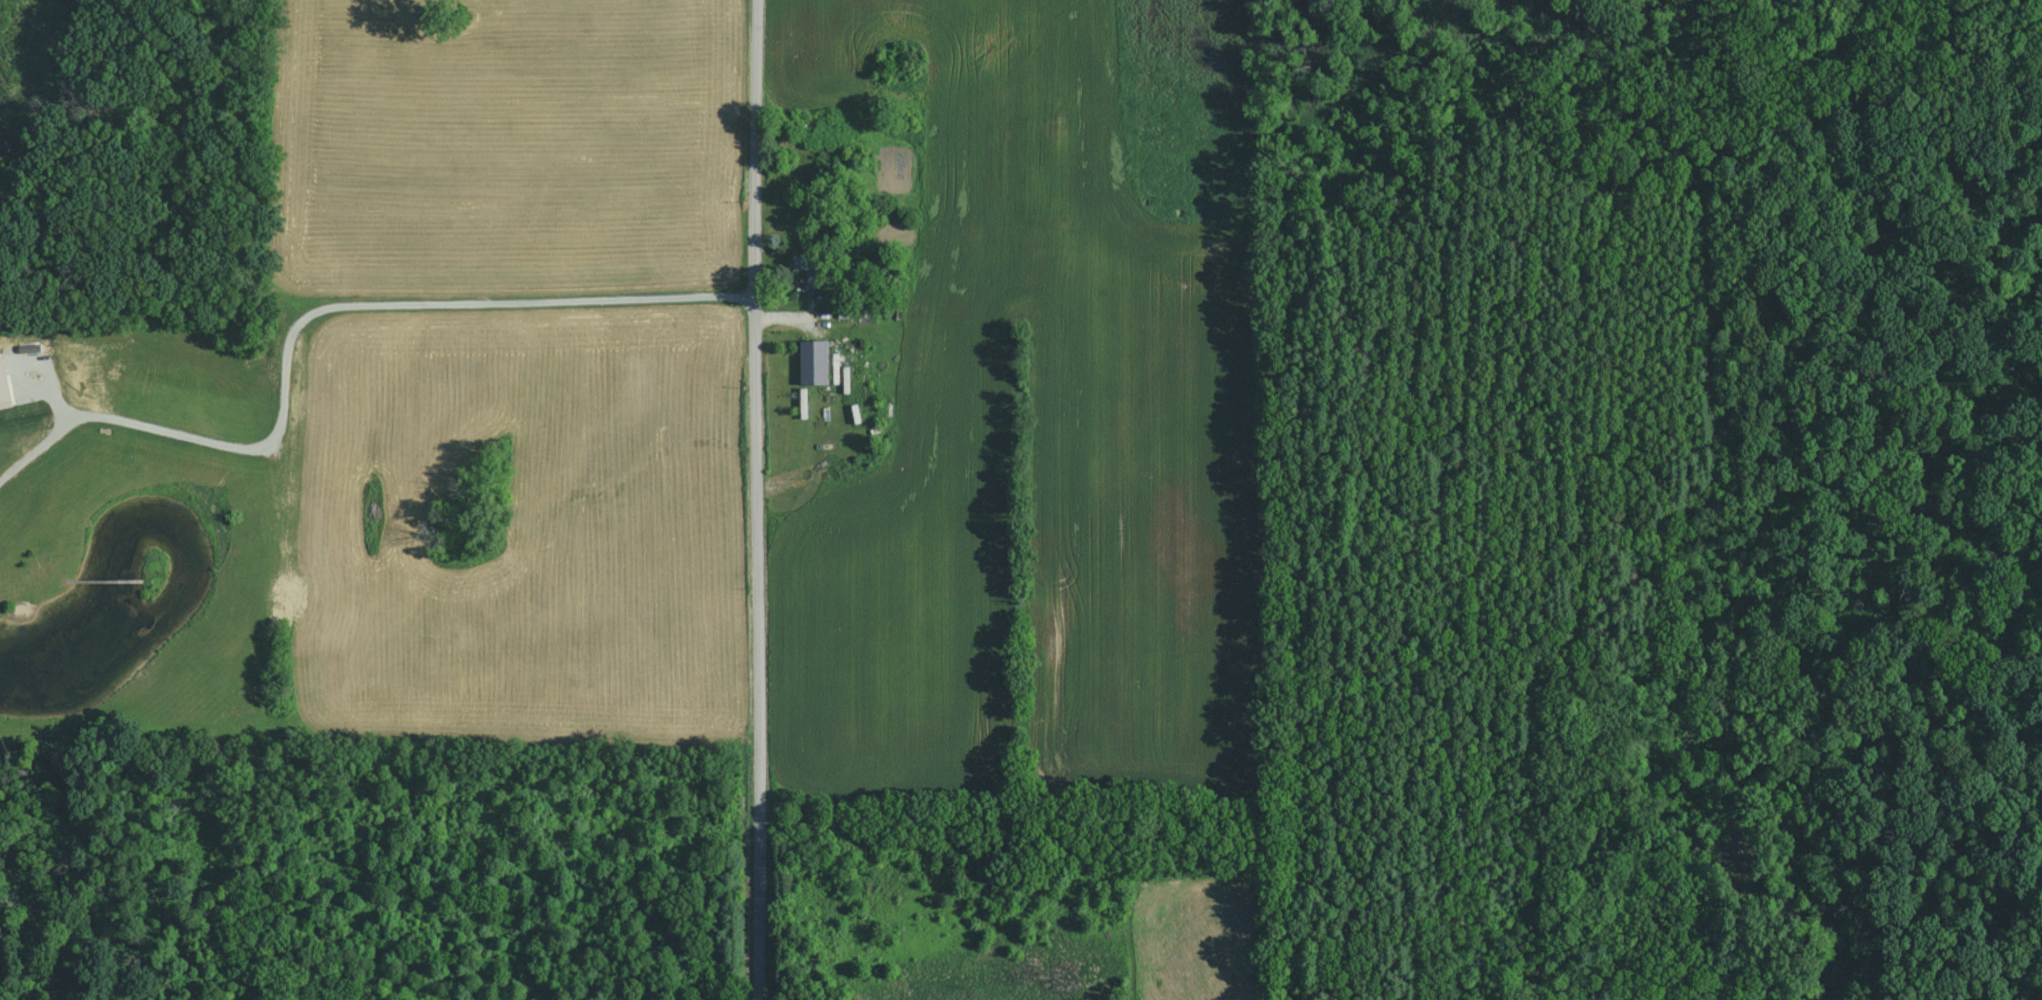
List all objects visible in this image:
building: (938, 191)
road: (314, 317)
building: (812, 362)
road: (754, 500)

